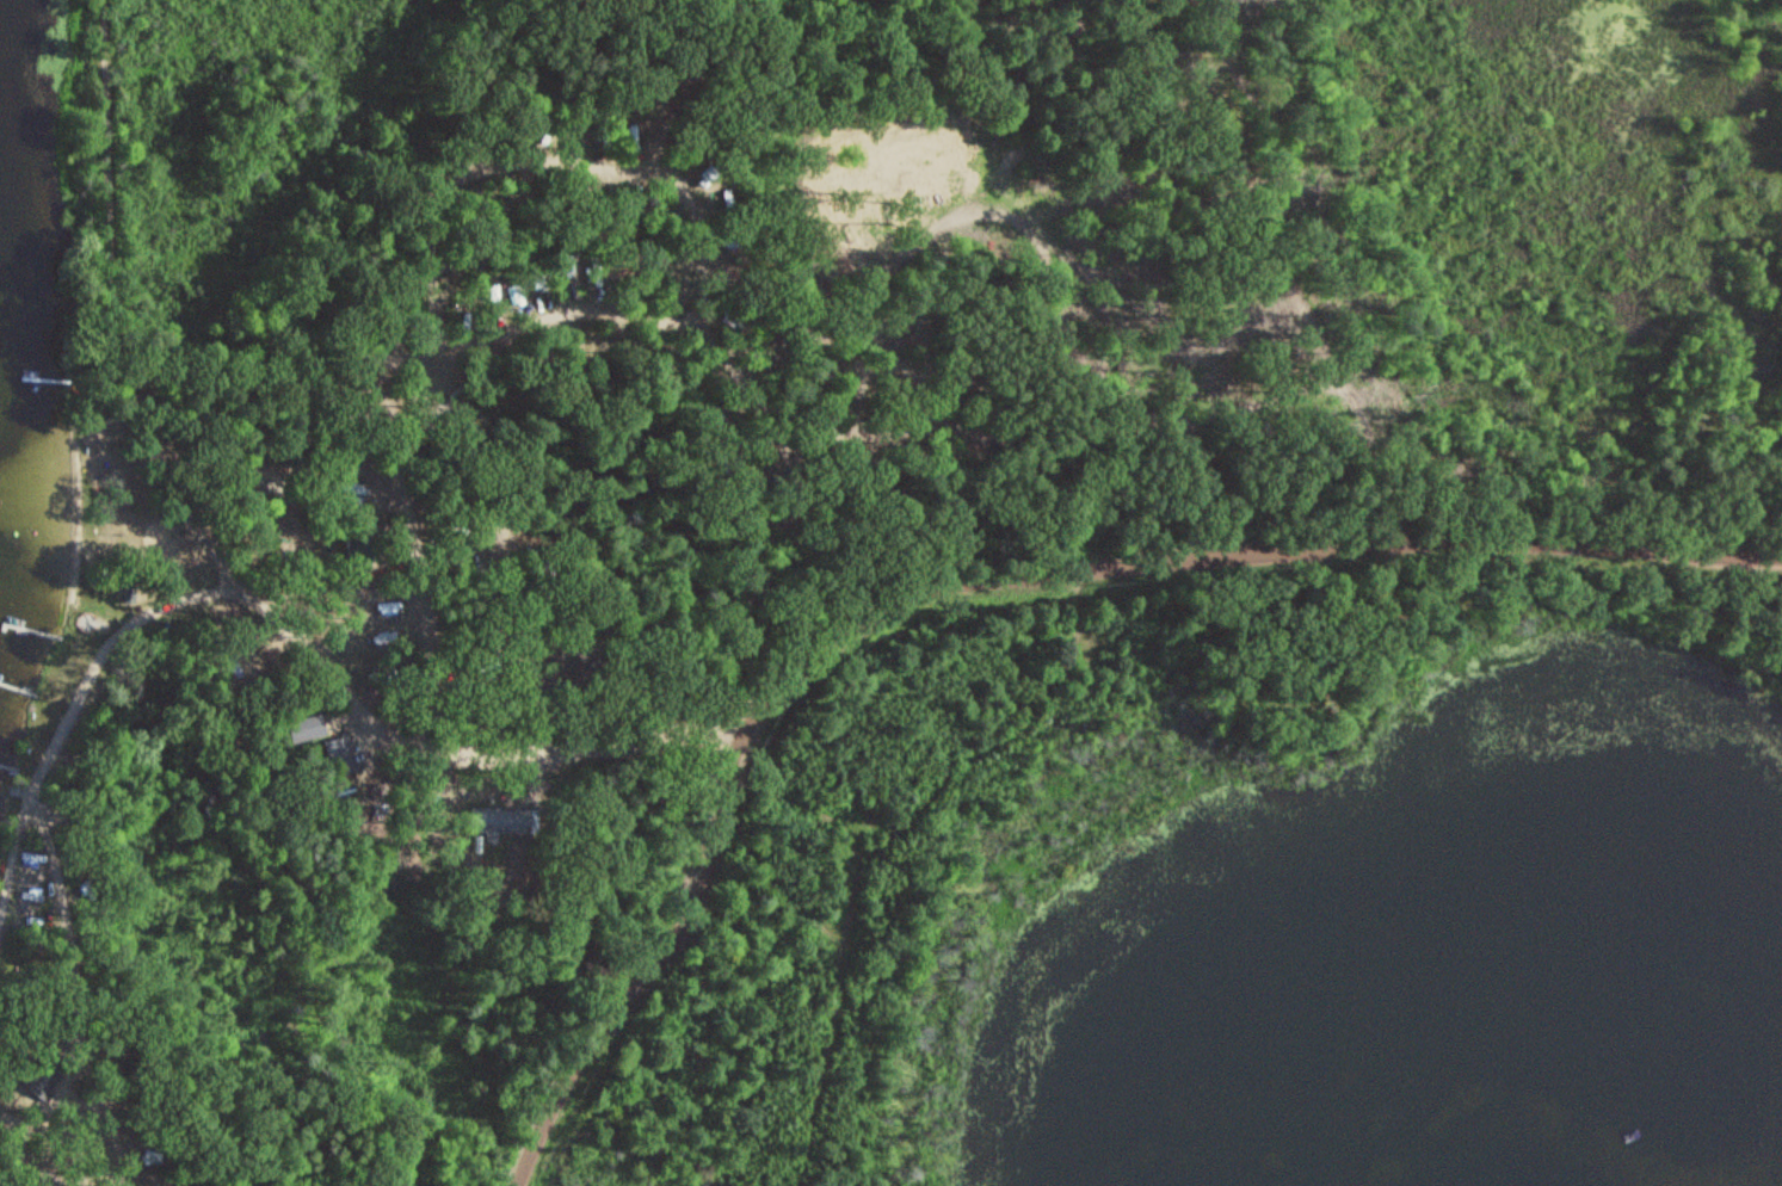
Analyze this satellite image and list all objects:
road: (1291, 273)
road: (109, 309)
road: (975, 580)
road: (409, 740)
building: (350, 758)

